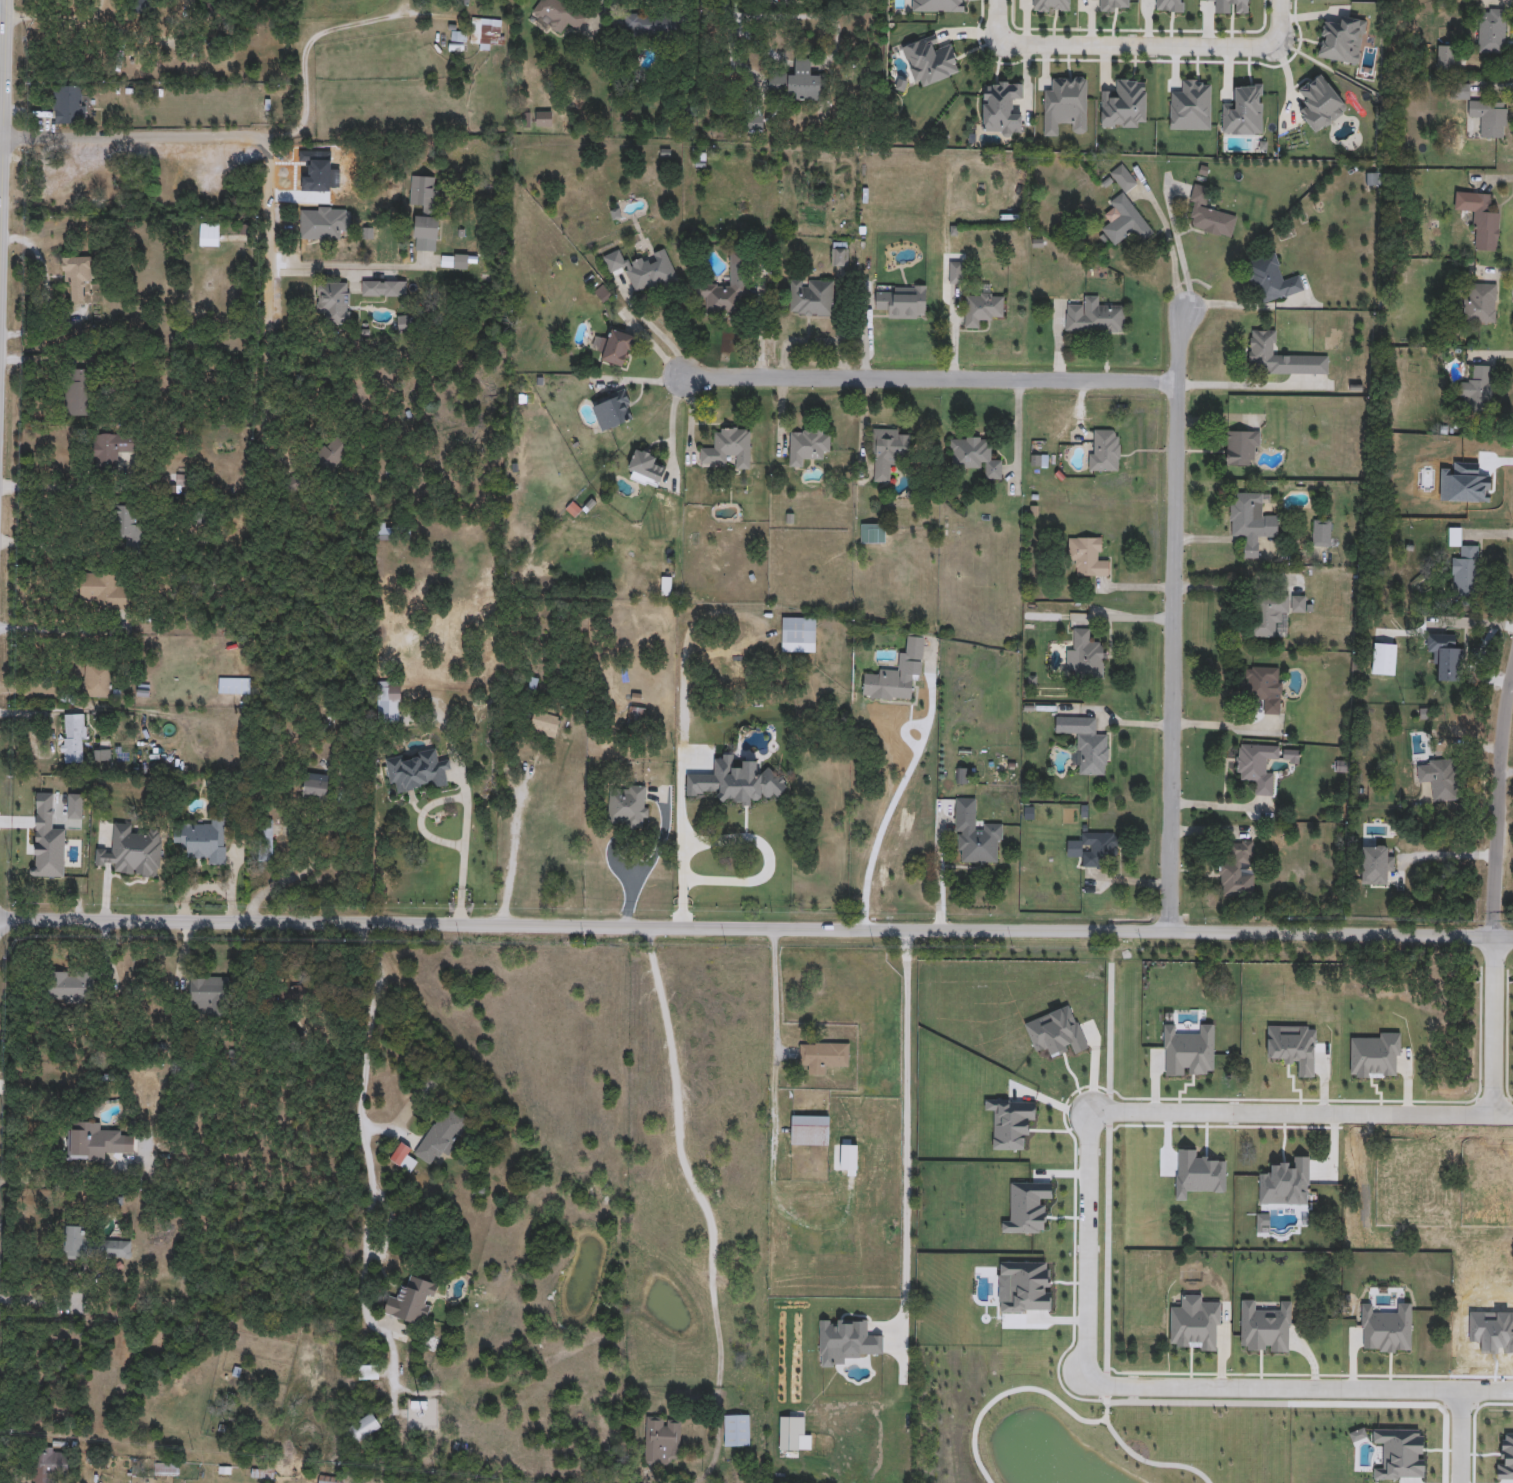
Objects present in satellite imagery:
building: (464, 1)
building: (786, 1)
building: (1114, 4)
building: (142, 5)
building: (205, 7)
road: (97, 11)
building: (559, 13)
road: (50, 19)
road: (998, 21)
road: (726, 22)
road: (1276, 22)
building: (653, 23)
building: (246, 25)
building: (1489, 30)
building: (487, 31)
road: (156, 39)
road: (1137, 44)
road: (308, 46)
building: (1445, 56)
building: (797, 81)
building: (1459, 90)
building: (1124, 102)
building: (69, 103)
building: (1001, 105)
building: (1489, 115)
building: (543, 117)
building: (755, 121)
road: (3, 134)
road: (195, 137)
building: (425, 205)
building: (1209, 214)
building: (1480, 217)
building: (1124, 220)
building: (323, 221)
building: (209, 233)
road: (0, 240)
road: (1171, 246)
building: (839, 253)
building: (460, 260)
road: (351, 266)
road: (45, 268)
building: (650, 270)
building: (956, 271)
building: (77, 273)
building: (1271, 278)
building: (382, 287)
building: (728, 287)
building: (811, 296)
building: (334, 301)
building: (903, 301)
building: (1479, 302)
building: (982, 307)
building: (1094, 316)
road: (268, 323)
road: (46, 329)
road: (659, 336)
building: (616, 346)
building: (1281, 355)
road: (930, 381)
building: (1476, 388)
building: (77, 391)
building: (612, 409)
road: (671, 433)
building: (808, 445)
building: (1241, 446)
building: (728, 447)
building: (109, 448)
building: (1102, 448)
building: (887, 449)
building: (330, 453)
building: (974, 454)
building: (645, 467)
building: (293, 484)
road: (55, 489)
building: (1250, 520)
building: (127, 526)
building: (385, 531)
building: (1321, 532)
road: (54, 554)
building: (1087, 555)
building: (1463, 564)
building: (104, 589)
road: (1237, 589)
building: (1273, 613)
road: (1174, 620)
building: (592, 624)
road: (59, 630)
building: (798, 633)
building: (914, 647)
building: (1088, 653)
building: (1447, 656)
building: (1385, 658)
building: (725, 664)
building: (96, 679)
building: (888, 684)
building: (1264, 685)
building: (389, 700)
building: (635, 717)
building: (544, 723)
building: (73, 737)
building: (1391, 737)
road: (679, 740)
building: (1085, 742)
building: (1256, 765)
building: (417, 770)
building: (1438, 777)
building: (315, 785)
road: (467, 806)
building: (628, 806)
road: (1502, 807)
road: (891, 810)
building: (976, 833)
building: (206, 839)
building: (265, 839)
building: (1098, 847)
building: (133, 850)
road: (1450, 856)
building: (51, 857)
road: (767, 858)
road: (513, 859)
building: (1376, 864)
road: (650, 865)
building: (1237, 869)
road: (301, 875)
road: (756, 928)
building: (68, 986)
road: (775, 987)
building: (290, 992)
building: (209, 994)
road: (1494, 1025)
road: (1110, 1027)
road: (368, 1047)
building: (822, 1055)
road: (1109, 1108)
road: (1309, 1113)
road: (911, 1128)
building: (810, 1130)
building: (441, 1135)
building: (96, 1140)
road: (61, 1175)
road: (705, 1208)
road: (365, 1239)
building: (72, 1241)
building: (114, 1248)
road: (1107, 1248)
road: (1086, 1254)
building: (411, 1299)
road: (53, 1301)
building: (367, 1371)
road: (1106, 1387)
road: (1316, 1387)
road: (1187, 1403)
road: (1065, 1408)
building: (364, 1426)
building: (736, 1430)
road: (1461, 1436)
building: (661, 1438)
building: (48, 1463)
building: (166, 1468)
building: (263, 1472)
building: (330, 1479)

